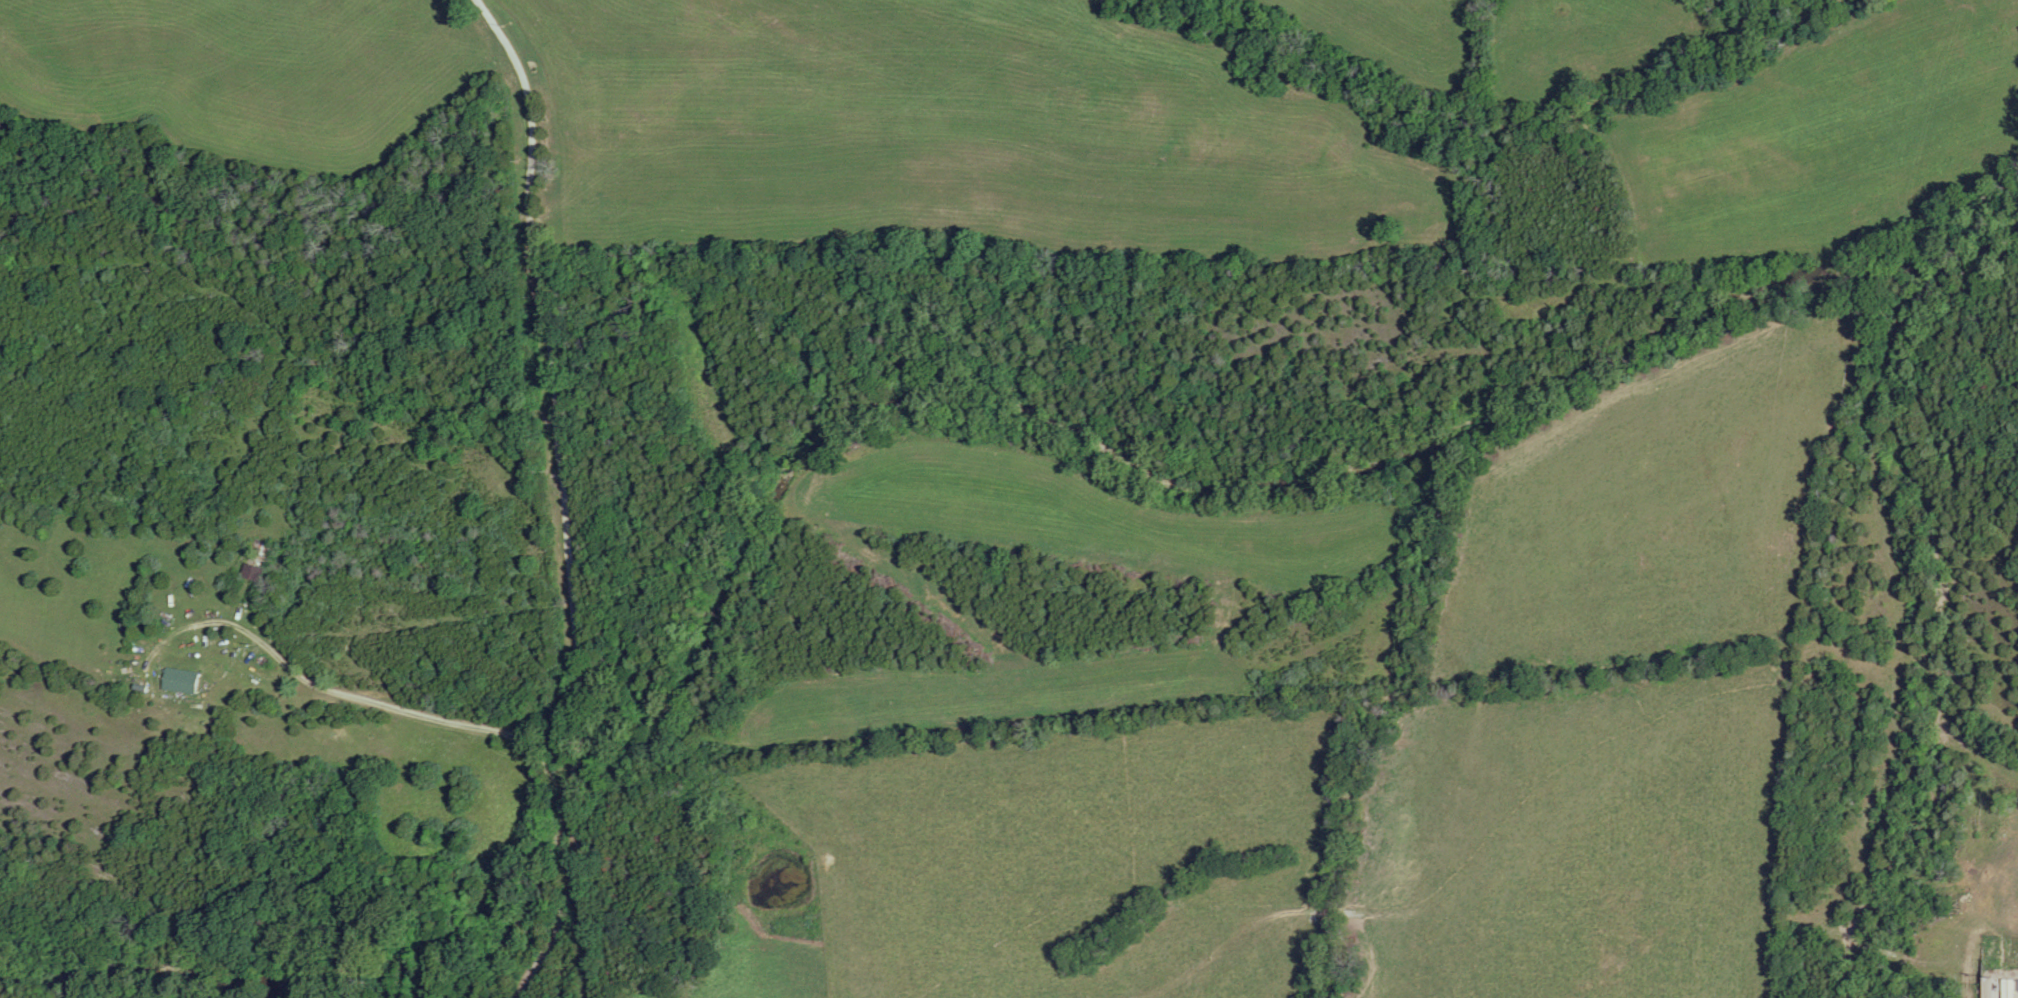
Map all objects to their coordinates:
road: (612, 488)
building: (255, 573)
building: (183, 681)
building: (2016, 894)

